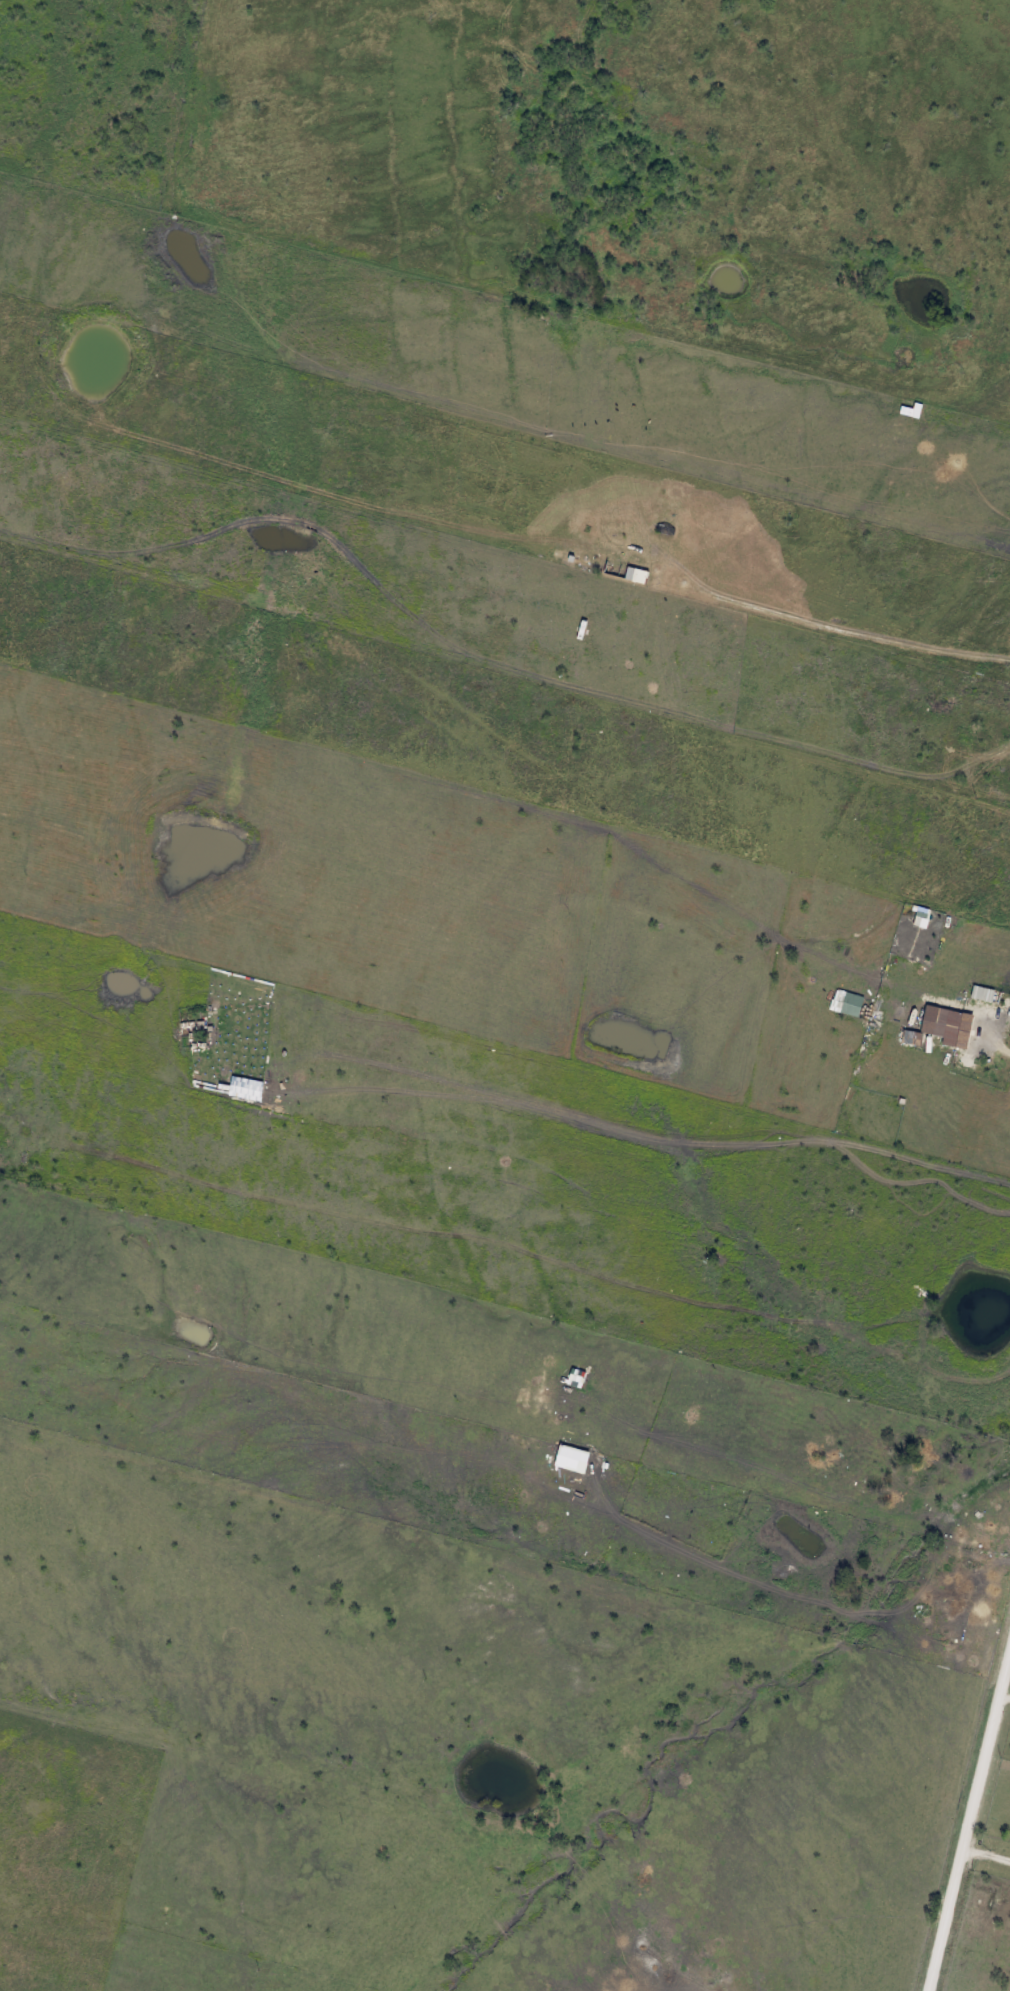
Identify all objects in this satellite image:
road: (1000, 1052)
road: (966, 1820)
road: (984, 1854)

